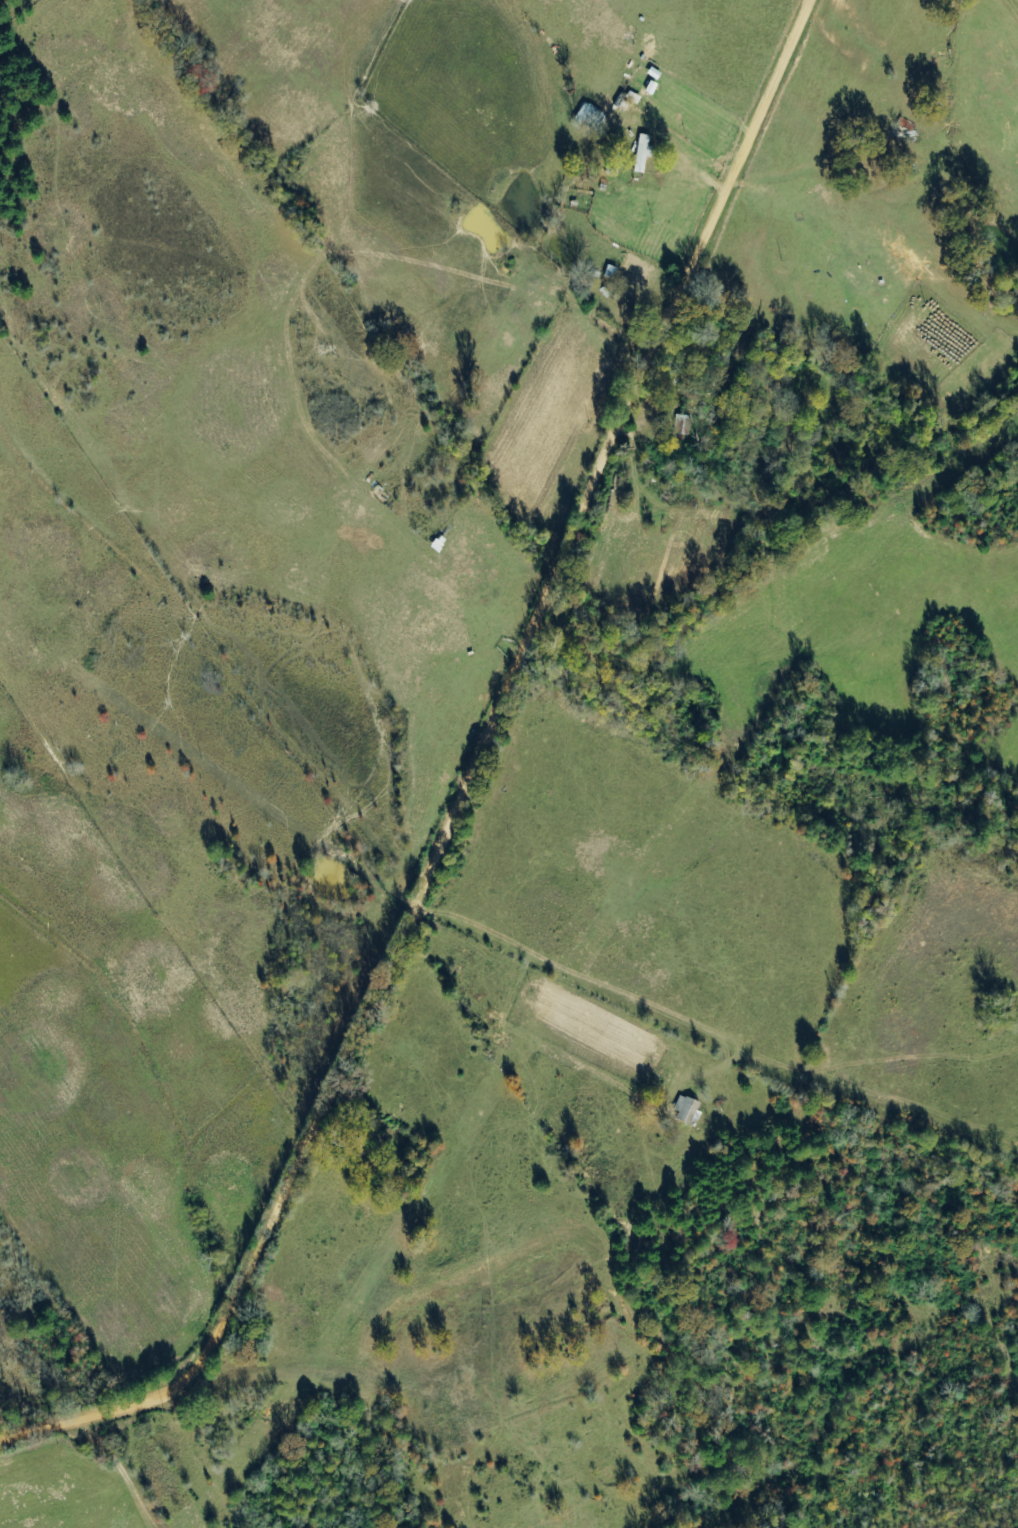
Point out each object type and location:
road: (440, 765)

